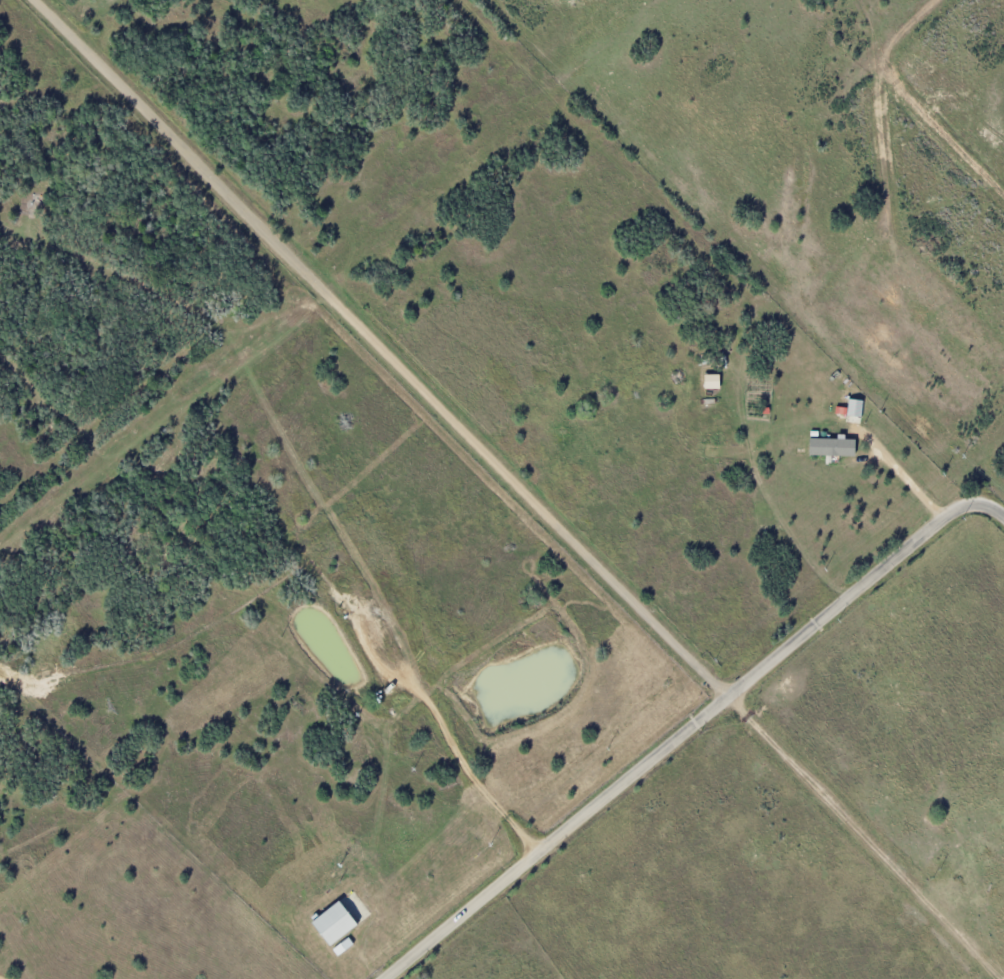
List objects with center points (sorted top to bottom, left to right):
road: (375, 348)
building: (713, 381)
building: (853, 408)
building: (834, 446)
road: (899, 470)
road: (689, 728)
building: (337, 923)
building: (344, 946)

